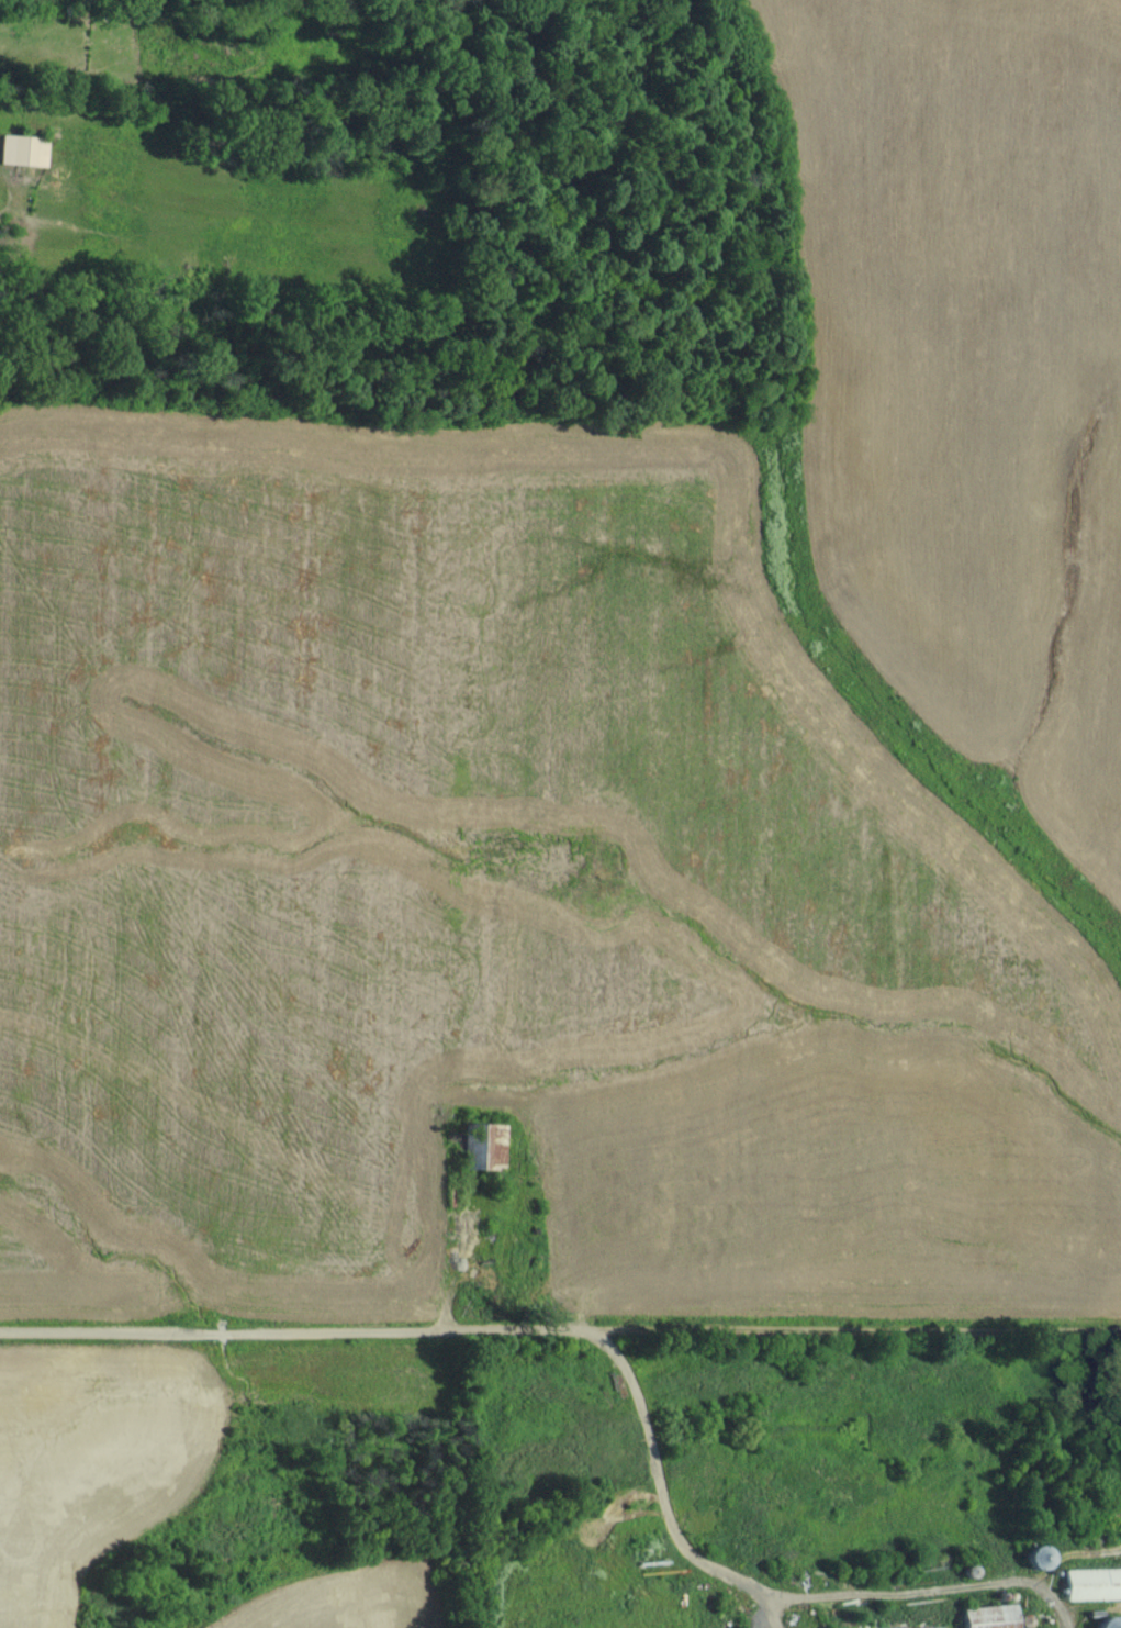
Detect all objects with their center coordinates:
building: (23, 148)
building: (487, 1145)
road: (560, 1328)
road: (661, 1497)
building: (989, 1616)
building: (1110, 1623)
building: (928, 1627)

